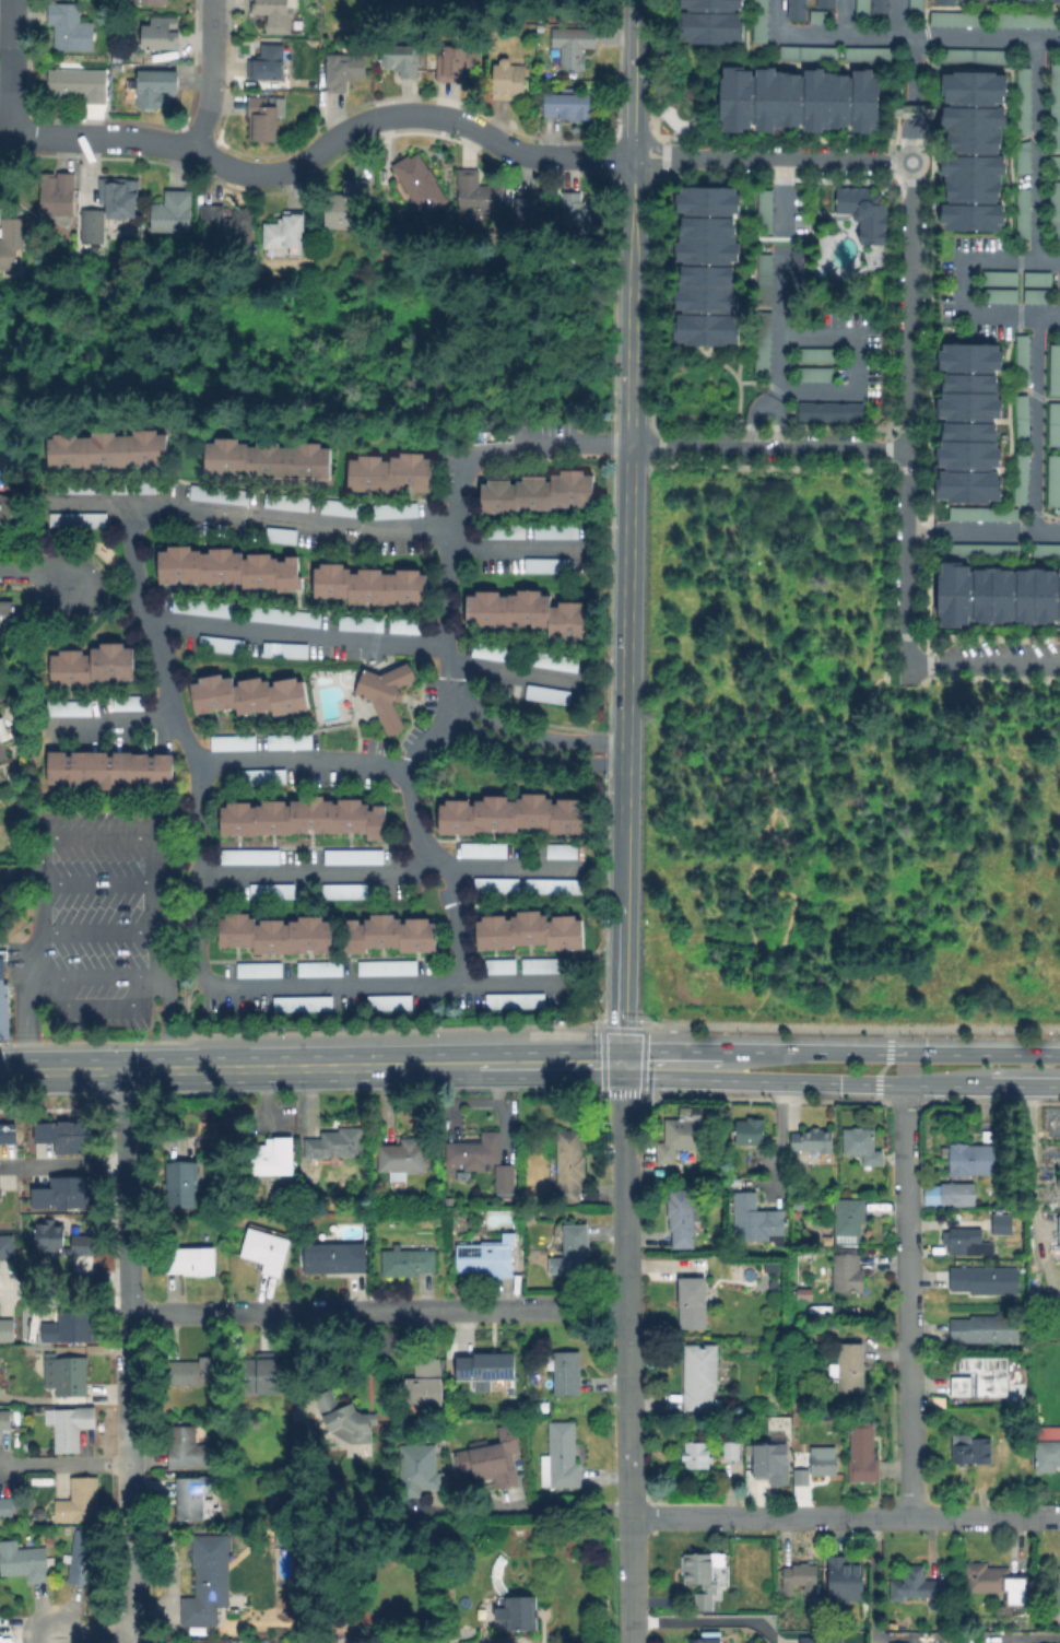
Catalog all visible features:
building: (945, 0)
building: (484, 1)
building: (1055, 1)
building: (156, 2)
building: (823, 2)
building: (709, 3)
building: (365, 4)
building: (914, 4)
building: (860, 7)
building: (878, 8)
building: (793, 9)
building: (274, 14)
road: (847, 17)
road: (900, 19)
building: (991, 19)
building: (755, 20)
building: (708, 26)
building: (70, 27)
building: (161, 34)
road: (902, 37)
building: (573, 44)
building: (810, 55)
building: (871, 55)
building: (978, 56)
building: (405, 60)
building: (268, 62)
building: (454, 64)
building: (117, 68)
road: (914, 68)
building: (344, 71)
road: (9, 72)
road: (214, 75)
building: (508, 79)
road: (635, 79)
building: (78, 83)
building: (310, 87)
building: (156, 89)
building: (800, 101)
building: (1025, 102)
building: (565, 105)
building: (1056, 107)
building: (910, 108)
road: (912, 108)
building: (263, 116)
road: (911, 140)
road: (321, 149)
building: (975, 151)
road: (1039, 151)
building: (1026, 157)
road: (773, 159)
building: (1057, 164)
building: (420, 183)
building: (478, 192)
building: (57, 193)
building: (118, 198)
road: (782, 199)
building: (349, 206)
building: (532, 210)
building: (764, 211)
building: (1056, 211)
building: (170, 212)
building: (863, 214)
building: (1025, 214)
building: (578, 215)
building: (227, 225)
building: (285, 231)
building: (93, 235)
building: (12, 245)
building: (708, 267)
building: (801, 270)
building: (1001, 279)
building: (1038, 280)
building: (766, 281)
road: (964, 289)
building: (1000, 296)
building: (1038, 296)
road: (780, 318)
building: (764, 345)
building: (820, 355)
building: (1023, 361)
road: (853, 362)
building: (1056, 371)
building: (815, 375)
building: (832, 411)
road: (908, 413)
road: (758, 421)
building: (1023, 421)
road: (779, 423)
building: (969, 423)
road: (1037, 425)
building: (1055, 425)
road: (768, 448)
building: (109, 450)
building: (267, 459)
building: (391, 472)
building: (1022, 480)
building: (1055, 481)
building: (78, 486)
building: (134, 486)
rooftop solar panel: (143, 486)
rooftop solar panel: (69, 488)
building: (538, 493)
building: (220, 494)
rooftop solar panel: (202, 495)
building: (288, 502)
building: (344, 508)
building: (397, 512)
building: (12, 513)
building: (985, 515)
rooftop solar panel: (64, 519)
building: (79, 520)
road: (319, 523)
building: (503, 529)
building: (557, 531)
road: (982, 532)
building: (282, 535)
building: (984, 551)
building: (1047, 551)
building: (549, 566)
building: (229, 567)
road: (38, 575)
building: (370, 585)
building: (996, 595)
building: (202, 608)
road: (626, 611)
building: (530, 612)
building: (7, 613)
building: (284, 615)
building: (362, 624)
building: (405, 626)
road: (298, 632)
building: (221, 644)
building: (285, 649)
road: (449, 649)
building: (496, 653)
building: (556, 661)
road: (988, 665)
building: (92, 666)
road: (516, 672)
building: (546, 693)
building: (386, 694)
building: (249, 695)
building: (128, 703)
building: (70, 708)
road: (113, 721)
building: (1, 731)
road: (532, 736)
building: (290, 741)
building: (235, 742)
building: (2, 750)
road: (305, 759)
road: (529, 762)
building: (110, 770)
building: (263, 776)
building: (513, 813)
building: (296, 819)
building: (484, 850)
building: (562, 852)
building: (251, 856)
building: (354, 857)
road: (393, 871)
road: (98, 882)
building: (498, 885)
building: (554, 885)
building: (345, 890)
building: (273, 891)
road: (205, 923)
building: (531, 930)
building: (368, 934)
road: (99, 935)
building: (278, 935)
building: (420, 937)
road: (36, 952)
building: (503, 965)
building: (544, 965)
building: (389, 967)
building: (260, 969)
building: (321, 969)
road: (97, 974)
road: (163, 975)
building: (516, 1000)
building: (389, 1001)
building: (3, 1002)
building: (301, 1004)
road: (670, 1051)
road: (891, 1054)
road: (551, 1065)
traffic signals: (622, 1065)
road: (446, 1066)
road: (268, 1068)
road: (884, 1069)
road: (61, 1071)
road: (804, 1082)
road: (1025, 1087)
building: (750, 1130)
building: (7, 1133)
building: (687, 1134)
building: (63, 1135)
building: (811, 1139)
building: (334, 1142)
building: (861, 1145)
building: (475, 1150)
building: (272, 1157)
building: (401, 1157)
road: (1030, 1158)
building: (969, 1159)
road: (63, 1162)
building: (568, 1164)
building: (504, 1177)
building: (1059, 1177)
building: (180, 1184)
building: (60, 1193)
road: (127, 1194)
building: (957, 1194)
building: (799, 1204)
road: (906, 1212)
building: (680, 1217)
building: (847, 1219)
building: (757, 1221)
building: (1001, 1223)
building: (1059, 1229)
building: (49, 1240)
building: (966, 1242)
building: (4, 1246)
building: (266, 1249)
building: (570, 1249)
building: (486, 1256)
building: (334, 1257)
building: (189, 1259)
building: (408, 1261)
building: (847, 1272)
building: (984, 1279)
road: (67, 1281)
building: (692, 1302)
road: (379, 1312)
building: (68, 1326)
building: (984, 1328)
building: (7, 1329)
road: (629, 1353)
building: (485, 1366)
building: (848, 1366)
rooftop solar panel: (473, 1369)
rooftop solar panel: (504, 1369)
building: (190, 1370)
building: (565, 1371)
building: (67, 1374)
building: (257, 1374)
building: (987, 1374)
building: (698, 1375)
building: (423, 1384)
building: (959, 1385)
building: (294, 1392)
building: (5, 1418)
building: (345, 1419)
building: (69, 1425)
road: (908, 1428)
building: (1046, 1432)
building: (187, 1447)
building: (730, 1450)
building: (969, 1450)
building: (861, 1453)
building: (696, 1454)
building: (1046, 1455)
building: (561, 1456)
building: (493, 1457)
building: (458, 1459)
road: (64, 1460)
building: (769, 1462)
building: (823, 1464)
building: (419, 1469)
building: (800, 1476)
road: (130, 1480)
building: (189, 1497)
building: (79, 1500)
building: (5, 1506)
road: (551, 1507)
road: (687, 1516)
road: (902, 1516)
building: (82, 1557)
building: (26, 1561)
building: (702, 1575)
building: (799, 1577)
building: (208, 1579)
road: (869, 1579)
building: (846, 1582)
building: (997, 1582)
building: (915, 1586)
building: (1057, 1596)
building: (516, 1612)
road: (91, 1636)
building: (706, 1638)
building: (325, 1640)
road: (511, 1640)
building: (212, 1641)
building: (393, 1642)

